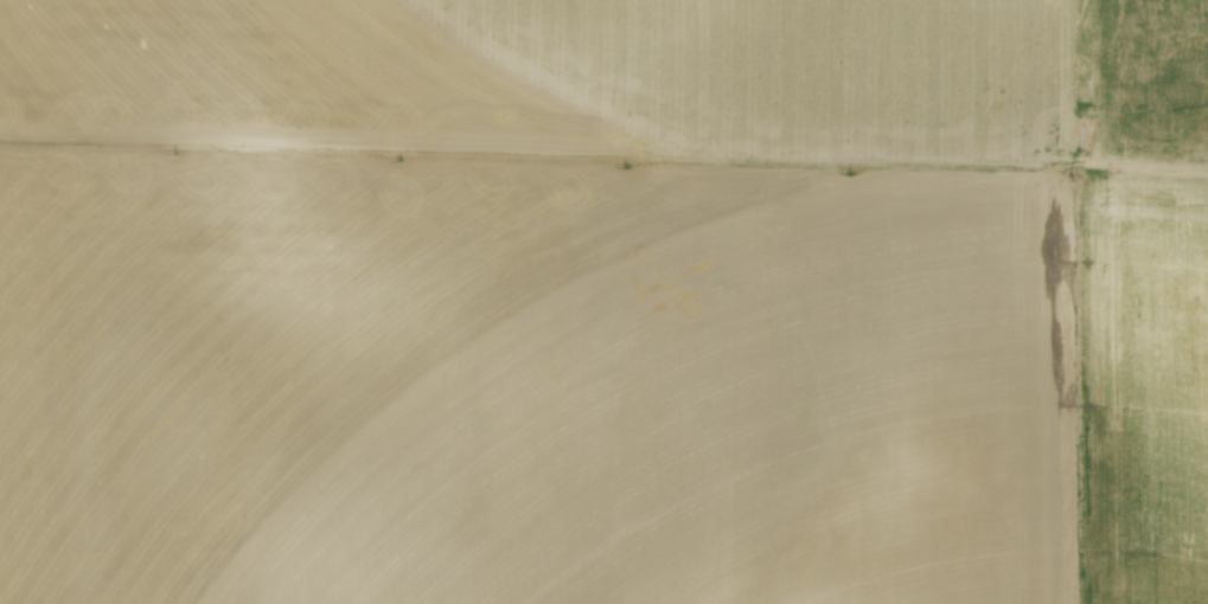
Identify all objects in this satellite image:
crop: (603, 302)

